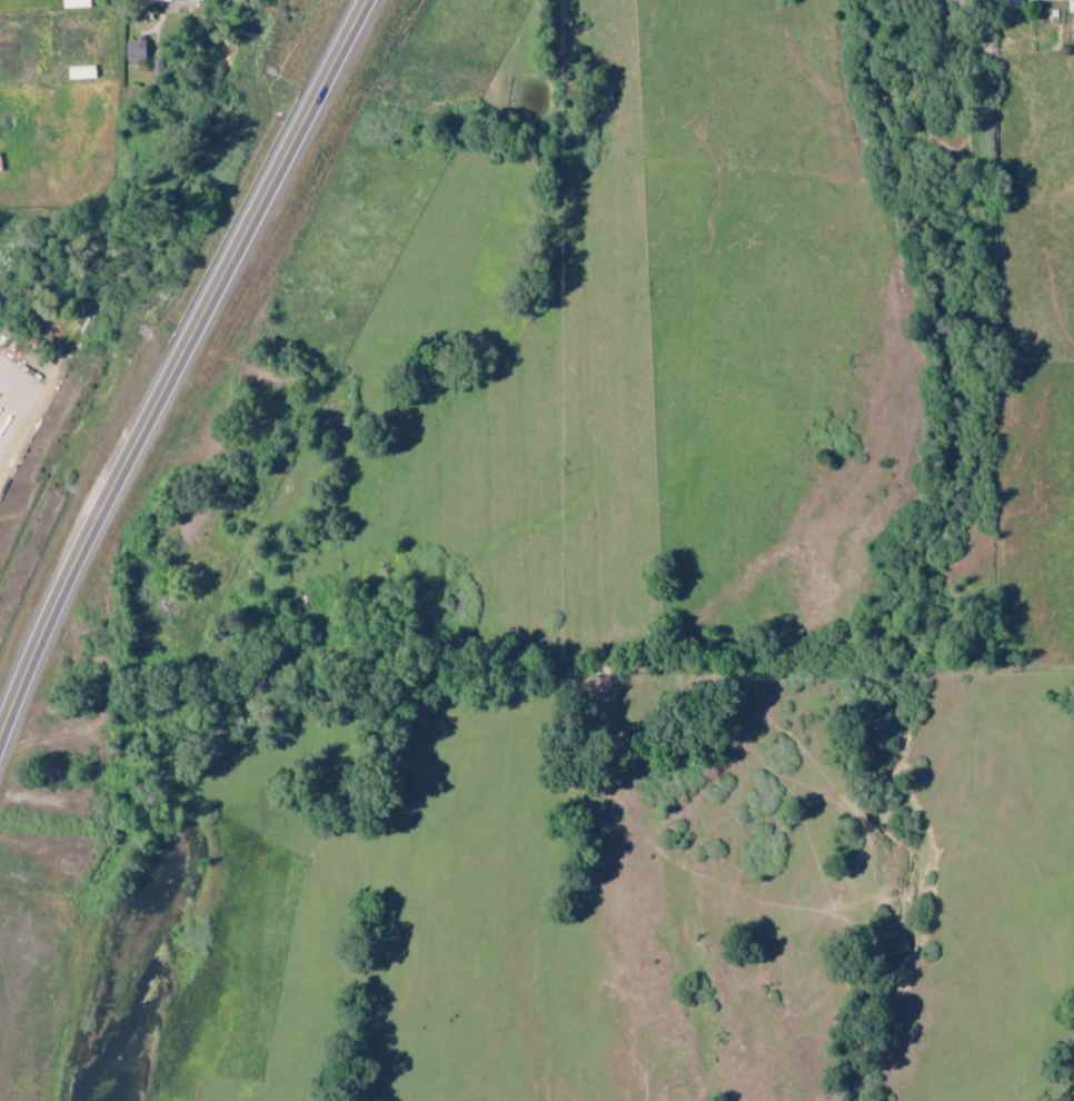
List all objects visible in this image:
building: (1070, 6)
building: (136, 49)
road: (175, 361)
building: (13, 395)

